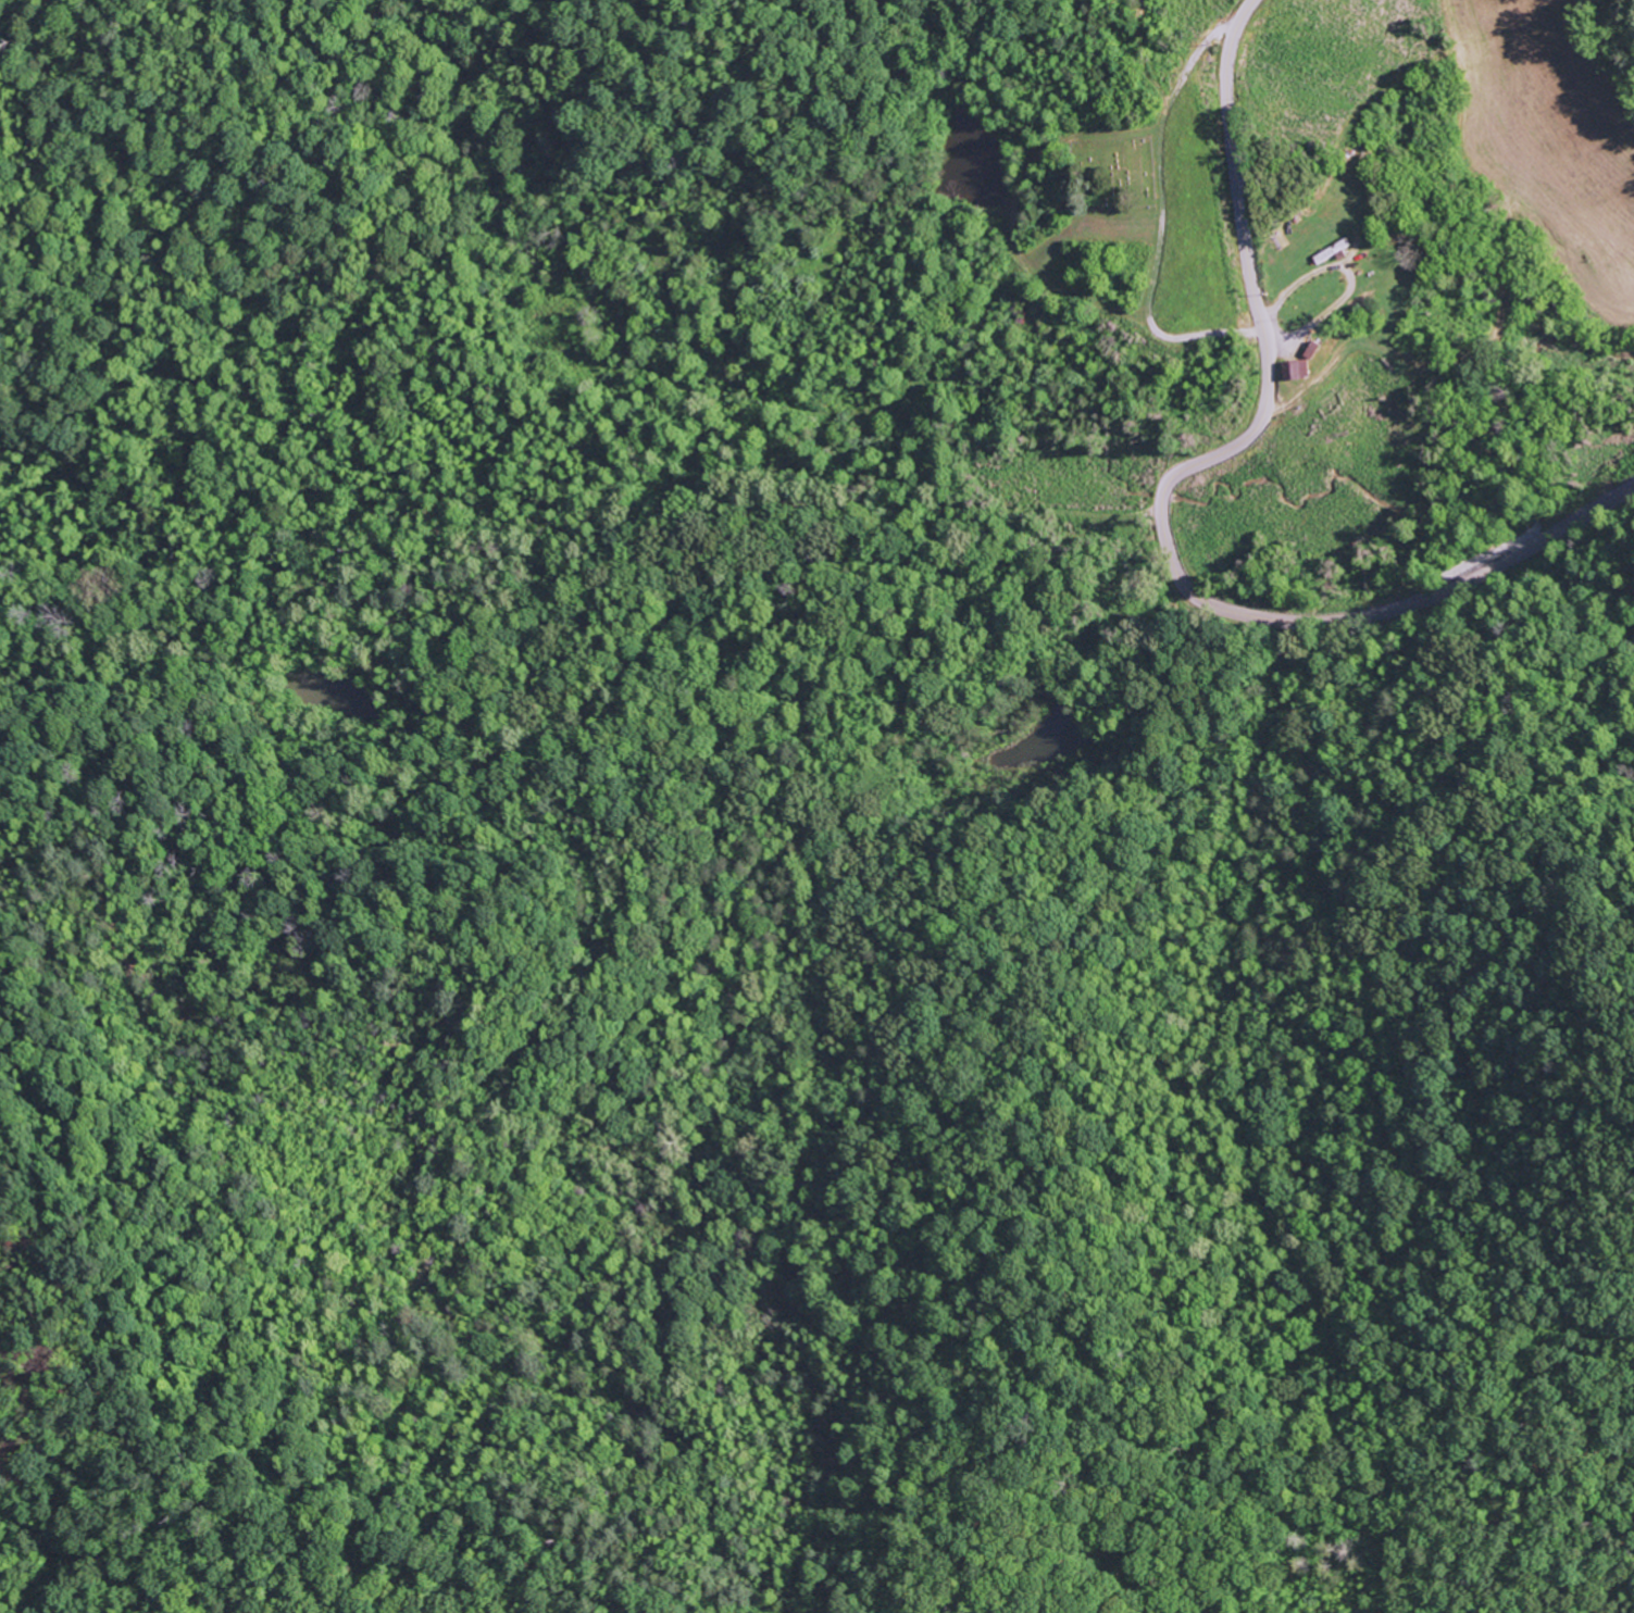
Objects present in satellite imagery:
road: (1161, 509)

